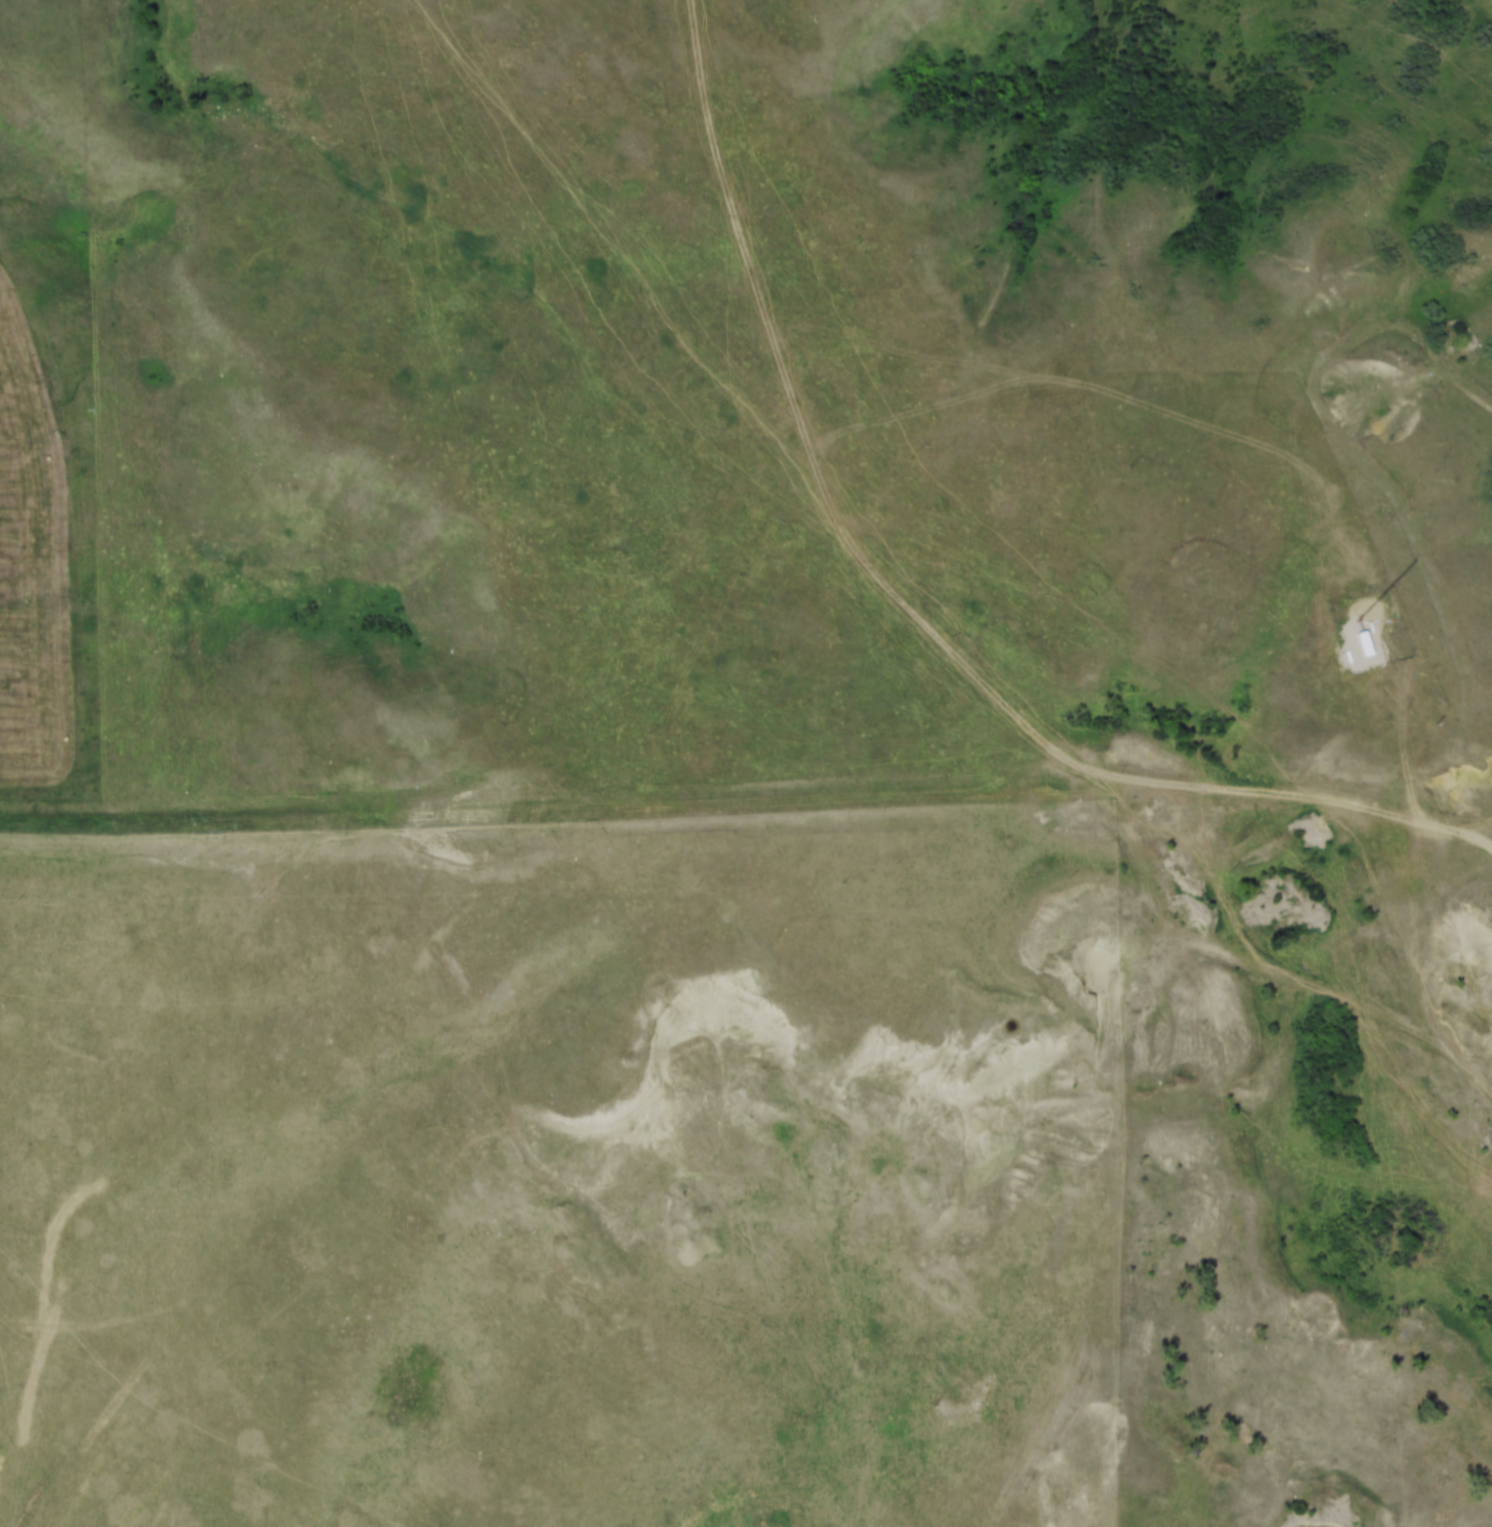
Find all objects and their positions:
road: (919, 591)
building: (1351, 615)
storage tank: (1355, 630)

